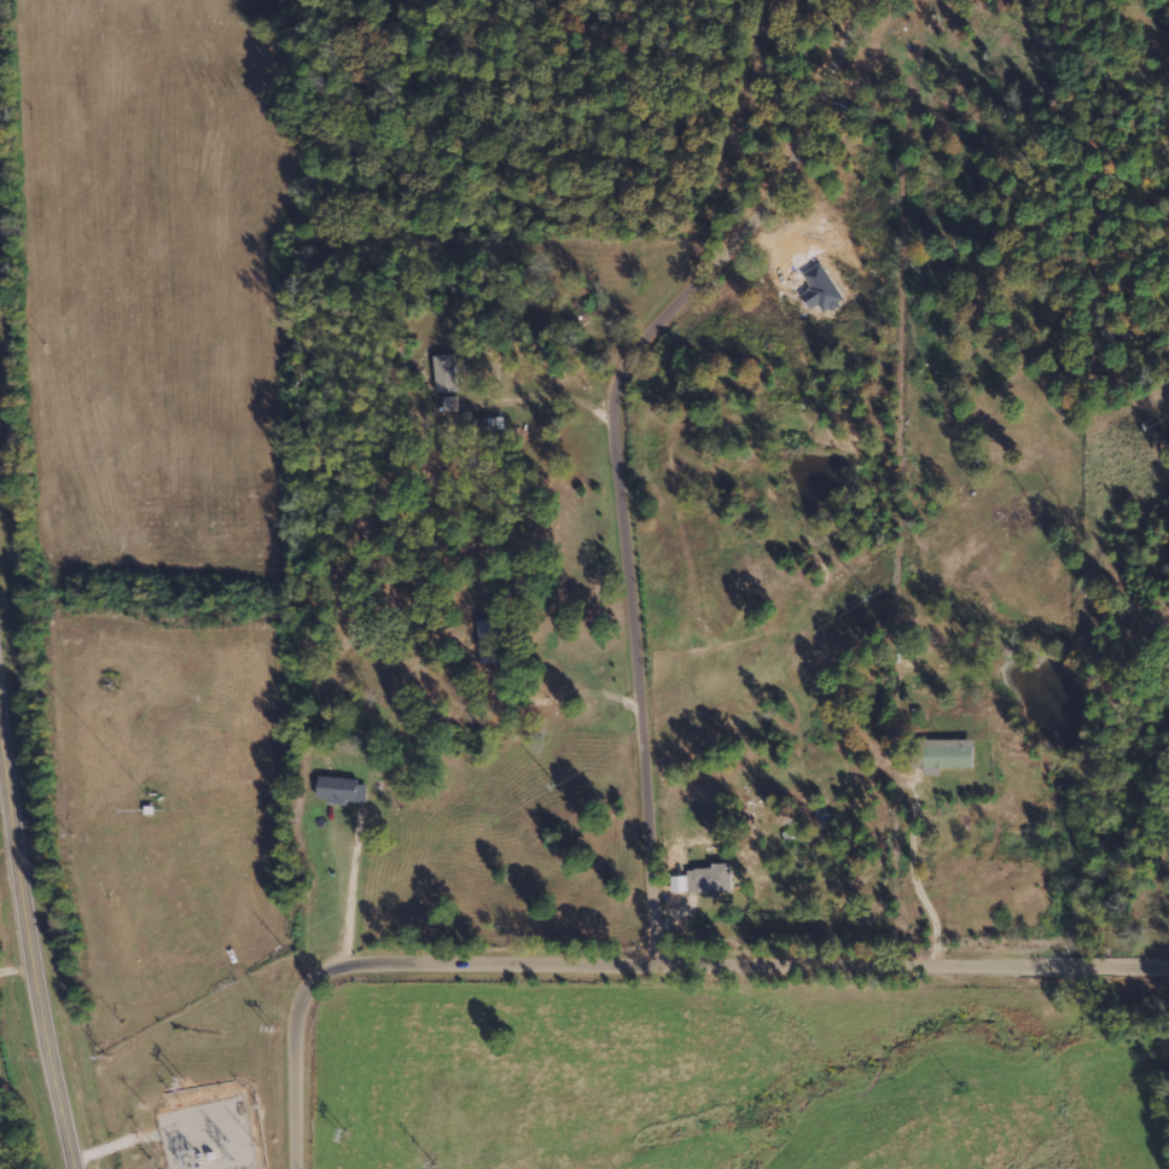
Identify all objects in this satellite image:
road: (888, 244)
building: (446, 373)
building: (450, 405)
road: (628, 441)
building: (488, 640)
building: (943, 755)
building: (342, 791)
building: (711, 879)
road: (30, 944)
road: (649, 958)
power substation: (205, 1133)

